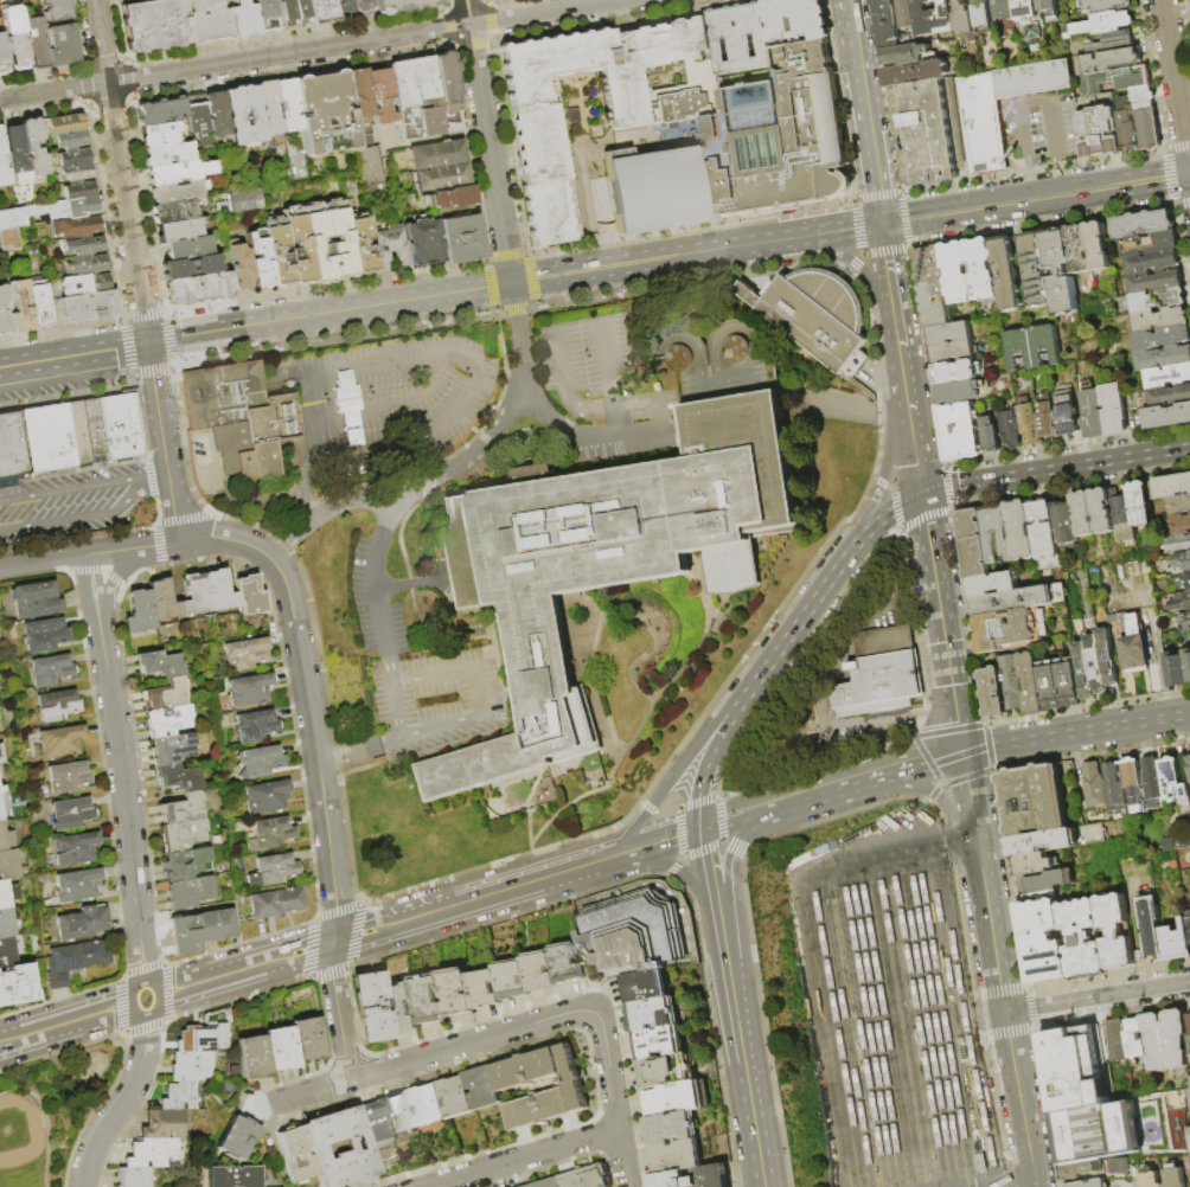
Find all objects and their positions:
road: (110, 2)
building: (360, 5)
building: (402, 5)
building: (1100, 5)
building: (343, 8)
building: (1004, 9)
building: (1025, 9)
building: (1050, 9)
building: (55, 11)
building: (320, 11)
building: (293, 12)
road: (467, 12)
road: (545, 12)
building: (264, 14)
building: (906, 14)
building: (985, 15)
building: (241, 18)
building: (935, 18)
building: (206, 19)
building: (796, 19)
building: (966, 20)
building: (1103, 23)
building: (887, 24)
building: (154, 25)
road: (280, 27)
building: (14, 37)
building: (742, 40)
building: (34, 41)
building: (1112, 43)
building: (60, 45)
building: (2, 54)
building: (903, 56)
road: (233, 62)
building: (1106, 62)
building: (915, 73)
building: (1131, 79)
building: (1034, 81)
building: (1093, 84)
road: (1176, 89)
building: (448, 92)
road: (860, 92)
building: (379, 95)
building: (1143, 95)
building: (358, 96)
building: (416, 98)
road: (1032, 98)
building: (288, 107)
building: (269, 108)
building: (161, 113)
building: (325, 114)
building: (217, 115)
building: (243, 116)
building: (64, 124)
building: (983, 124)
building: (197, 126)
building: (1128, 126)
building: (1149, 126)
parking lot: (1041, 127)
road: (1051, 128)
building: (1096, 129)
building: (927, 130)
road: (1023, 131)
building: (158, 134)
building: (799, 139)
building: (70, 140)
building: (27, 147)
building: (1111, 147)
road: (490, 153)
building: (167, 154)
building: (14, 156)
building: (72, 158)
building: (543, 158)
building: (2, 165)
building: (370, 165)
building: (439, 166)
traffic signals: (1189, 172)
building: (75, 173)
building: (178, 173)
road: (1058, 175)
road: (1031, 179)
building: (718, 188)
building: (77, 191)
building: (652, 191)
building: (175, 192)
road: (1035, 195)
building: (449, 198)
building: (239, 199)
road: (877, 204)
building: (71, 208)
building: (174, 211)
building: (20, 214)
traffic signals: (881, 222)
building: (1145, 224)
building: (75, 227)
building: (179, 230)
road: (836, 231)
building: (9, 237)
building: (461, 239)
building: (424, 242)
building: (1150, 244)
building: (318, 245)
building: (78, 246)
building: (1099, 246)
building: (391, 248)
building: (188, 249)
building: (1080, 249)
building: (260, 258)
road: (650, 259)
building: (1152, 263)
building: (82, 264)
road: (857, 265)
building: (191, 268)
building: (241, 268)
building: (981, 269)
building: (1037, 269)
road: (135, 271)
building: (958, 272)
building: (1061, 272)
building: (1006, 274)
building: (1156, 282)
traffic signals: (510, 283)
road: (890, 283)
building: (83, 284)
building: (932, 287)
building: (198, 289)
building: (4, 296)
building: (1158, 301)
building: (19, 306)
building: (38, 306)
building: (88, 306)
building: (818, 316)
building: (1160, 320)
building: (5, 323)
road: (255, 325)
building: (951, 334)
building: (1160, 339)
traffic signals: (147, 342)
building: (1034, 348)
building: (954, 353)
building: (1163, 359)
road: (609, 362)
parking lot: (593, 370)
building: (958, 372)
road: (902, 373)
road: (476, 376)
building: (1166, 377)
building: (958, 392)
road: (570, 394)
building: (1169, 397)
road: (385, 405)
parking lot: (378, 406)
building: (1113, 410)
building: (241, 412)
building: (1068, 412)
road: (548, 413)
building: (1093, 415)
building: (1167, 417)
building: (1048, 421)
building: (1029, 423)
building: (120, 426)
road: (652, 426)
building: (1011, 430)
building: (92, 431)
building: (960, 432)
building: (77, 434)
road: (600, 435)
building: (991, 437)
building: (47, 438)
road: (914, 447)
road: (308, 448)
building: (12, 449)
road: (885, 468)
road: (454, 469)
road: (1055, 470)
building: (532, 473)
road: (152, 476)
building: (1172, 487)
road: (68, 489)
building: (1152, 492)
traffic signals: (922, 493)
parking lot: (68, 502)
building: (1140, 503)
building: (1181, 506)
road: (889, 509)
road: (395, 511)
building: (1093, 513)
road: (76, 516)
building: (1122, 518)
building: (1066, 524)
building: (1182, 525)
building: (1019, 531)
building: (1043, 531)
building: (1004, 537)
road: (219, 538)
building: (973, 544)
building: (1178, 544)
building: (620, 546)
road: (89, 553)
building: (1182, 560)
building: (1184, 579)
building: (992, 585)
road: (107, 591)
building: (220, 591)
building: (1056, 592)
building: (196, 596)
building: (251, 596)
building: (34, 599)
road: (94, 599)
building: (164, 601)
building: (1012, 602)
building: (1181, 603)
building: (140, 612)
building: (1185, 618)
road: (798, 622)
road: (942, 623)
road: (657, 625)
building: (1133, 625)
building: (1011, 630)
building: (43, 634)
road: (383, 637)
building: (883, 641)
building: (247, 654)
building: (1134, 655)
building: (1108, 657)
building: (1096, 663)
building: (1186, 663)
building: (161, 665)
parking lot: (418, 667)
building: (49, 669)
building: (1176, 671)
building: (1083, 672)
road: (433, 676)
building: (1012, 684)
building: (1032, 685)
building: (876, 687)
building: (1061, 687)
road: (593, 688)
building: (250, 691)
road: (479, 692)
building: (994, 693)
building: (166, 695)
building: (56, 705)
road: (932, 710)
road: (645, 719)
building: (167, 721)
road: (850, 721)
building: (256, 726)
road: (441, 726)
road: (1076, 732)
building: (58, 740)
building: (173, 749)
road: (359, 751)
traffic signals: (964, 753)
building: (1, 755)
building: (261, 762)
building: (1189, 763)
road: (915, 766)
road: (705, 768)
building: (65, 776)
building: (178, 778)
road: (672, 778)
building: (584, 782)
building: (1153, 782)
building: (1173, 782)
building: (1134, 783)
building: (1095, 785)
building: (1, 788)
building: (1115, 789)
road: (826, 793)
road: (928, 793)
road: (970, 793)
building: (267, 797)
building: (1034, 800)
building: (485, 807)
building: (183, 809)
road: (322, 809)
building: (69, 813)
building: (0, 815)
road: (743, 817)
road: (527, 826)
traffic signals: (700, 830)
building: (183, 835)
building: (270, 835)
building: (5, 836)
building: (1177, 841)
road: (659, 842)
building: (1043, 842)
building: (72, 847)
building: (8, 864)
building: (186, 864)
building: (1034, 864)
road: (705, 865)
road: (670, 866)
building: (273, 871)
building: (1050, 881)
building: (76, 884)
road: (731, 887)
building: (7, 893)
building: (190, 893)
building: (276, 903)
building: (1189, 918)
building: (7, 922)
building: (79, 922)
road: (136, 922)
road: (990, 922)
building: (1152, 925)
building: (201, 930)
building: (635, 932)
building: (1115, 932)
building: (1043, 937)
building: (1083, 937)
building: (1177, 943)
road: (722, 945)
road: (820, 948)
road: (308, 949)
building: (6, 951)
building: (71, 960)
building: (568, 963)
building: (540, 973)
building: (513, 980)
building: (17, 984)
building: (647, 986)
building: (367, 987)
building: (485, 989)
building: (458, 992)
road: (1096, 997)
building: (429, 1000)
building: (401, 1008)
building: (653, 1014)
building: (1189, 1020)
building: (373, 1024)
road: (516, 1027)
building: (203, 1038)
building: (307, 1040)
building: (1115, 1040)
building: (1133, 1040)
building: (1165, 1040)
building: (659, 1042)
building: (1189, 1042)
building: (1069, 1045)
building: (279, 1048)
building: (251, 1058)
building: (190, 1066)
building: (667, 1071)
building: (485, 1089)
road: (750, 1089)
building: (570, 1090)
building: (1188, 1091)
building: (1077, 1095)
building: (178, 1096)
building: (458, 1097)
building: (678, 1098)
road: (1019, 1099)
building: (429, 1106)
park: (49, 1111)
building: (401, 1114)
building: (161, 1125)
building: (672, 1128)
building: (377, 1131)
building: (232, 1137)
park: (20, 1138)
building: (1188, 1138)
building: (318, 1143)
road: (273, 1146)
building: (153, 1154)
building: (294, 1155)
building: (678, 1156)
road: (523, 1157)
building: (1115, 1164)
building: (1080, 1169)
building: (231, 1176)
building: (712, 1176)
building: (133, 1178)
building: (586, 1178)
building: (1173, 1178)
building: (673, 1180)
building: (1150, 1180)
road: (1006, 1182)
building: (546, 1183)
building: (1088, 1183)

